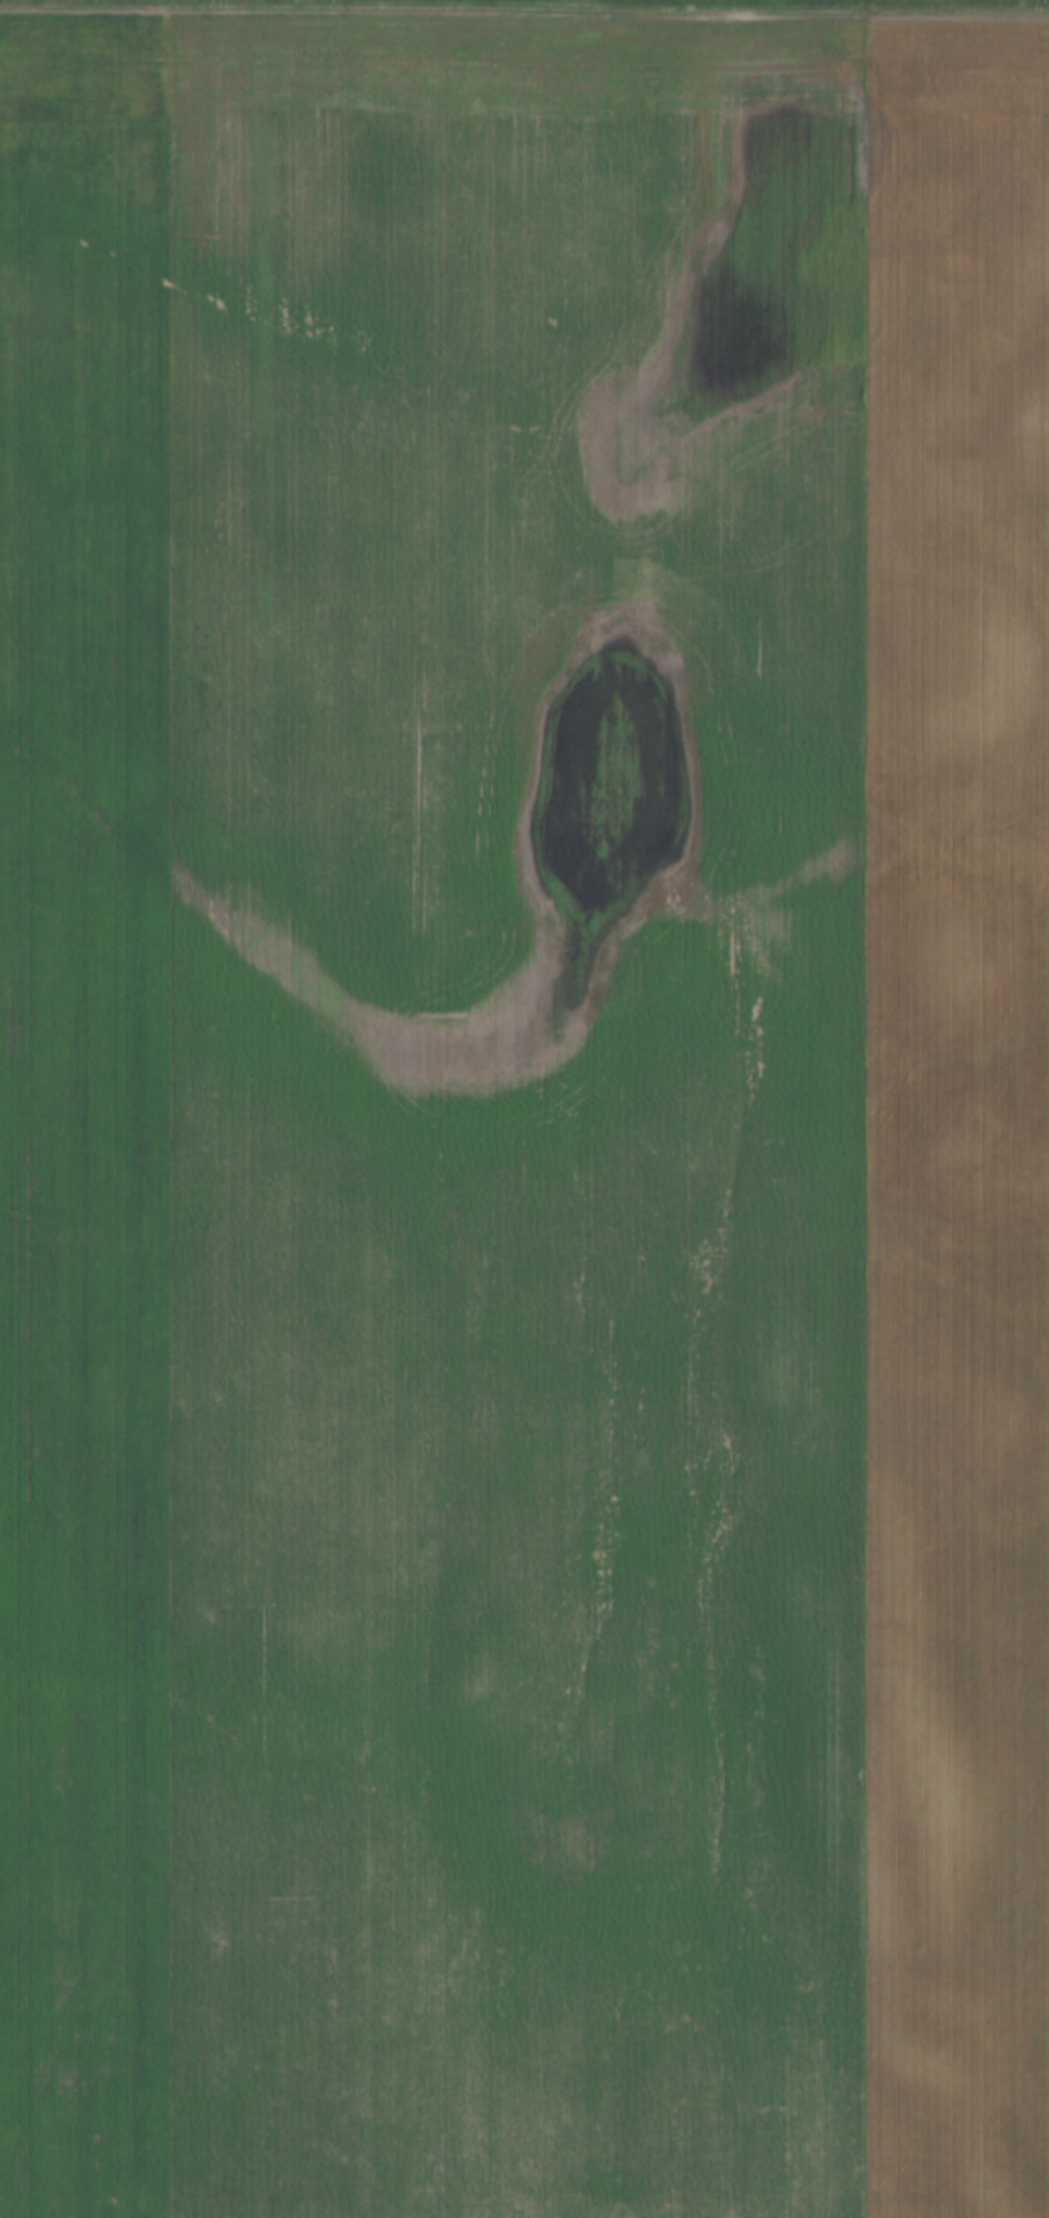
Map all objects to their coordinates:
road: (524, 11)

